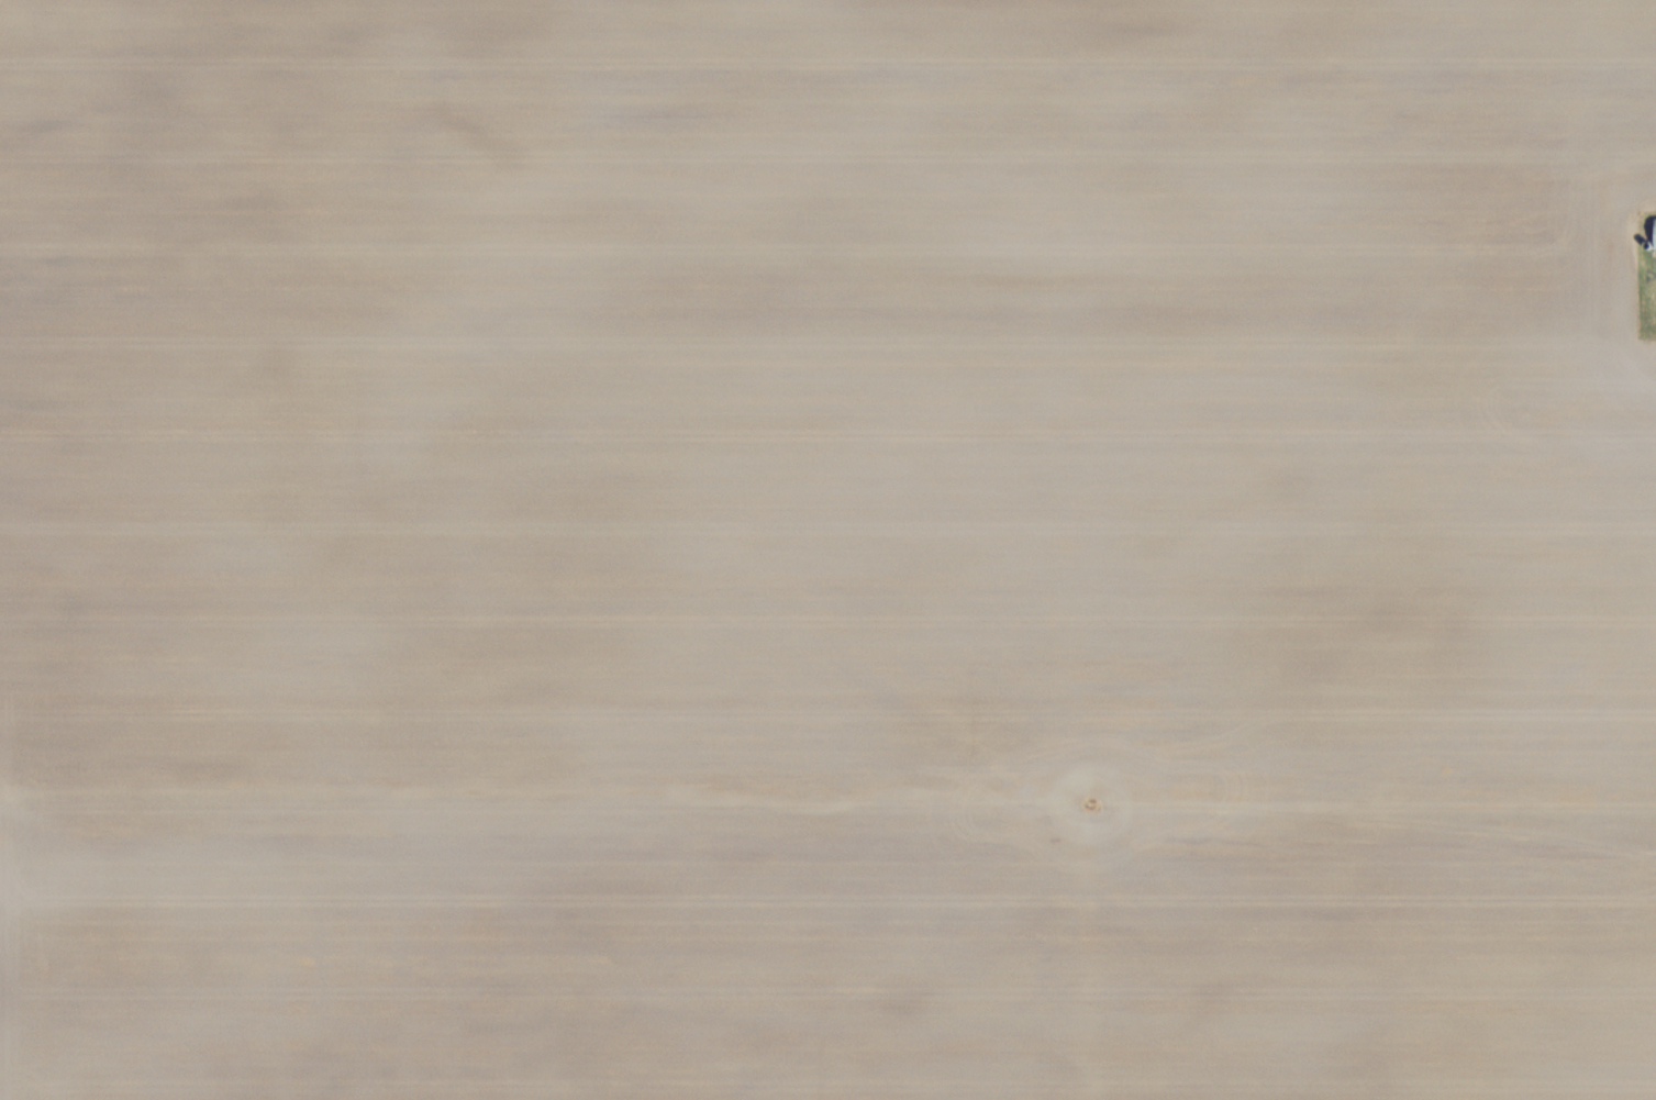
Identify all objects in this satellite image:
building: (1651, 233)

